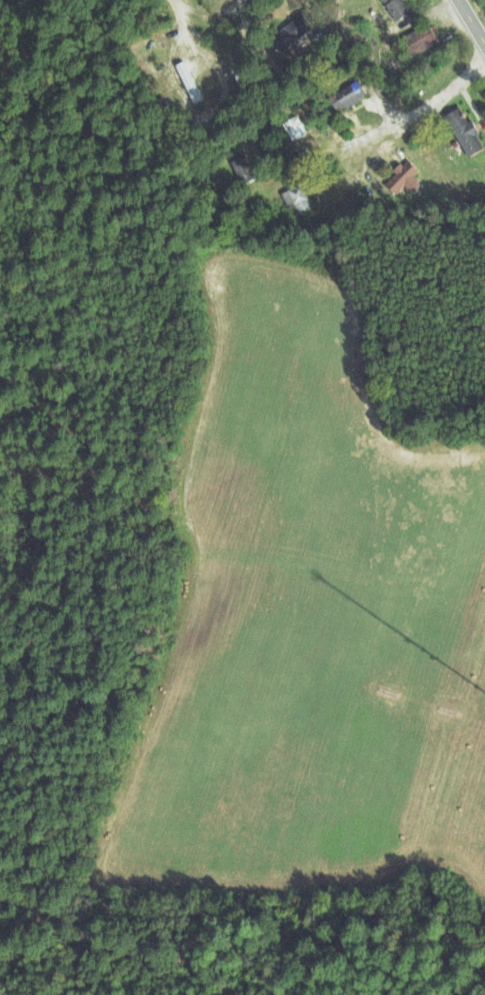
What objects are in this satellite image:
building: (395, 7)
road: (341, 11)
road: (209, 12)
road: (473, 19)
building: (289, 32)
building: (417, 40)
building: (187, 80)
building: (345, 95)
road: (406, 115)
building: (291, 129)
building: (462, 131)
building: (241, 168)
building: (400, 176)
building: (296, 198)

